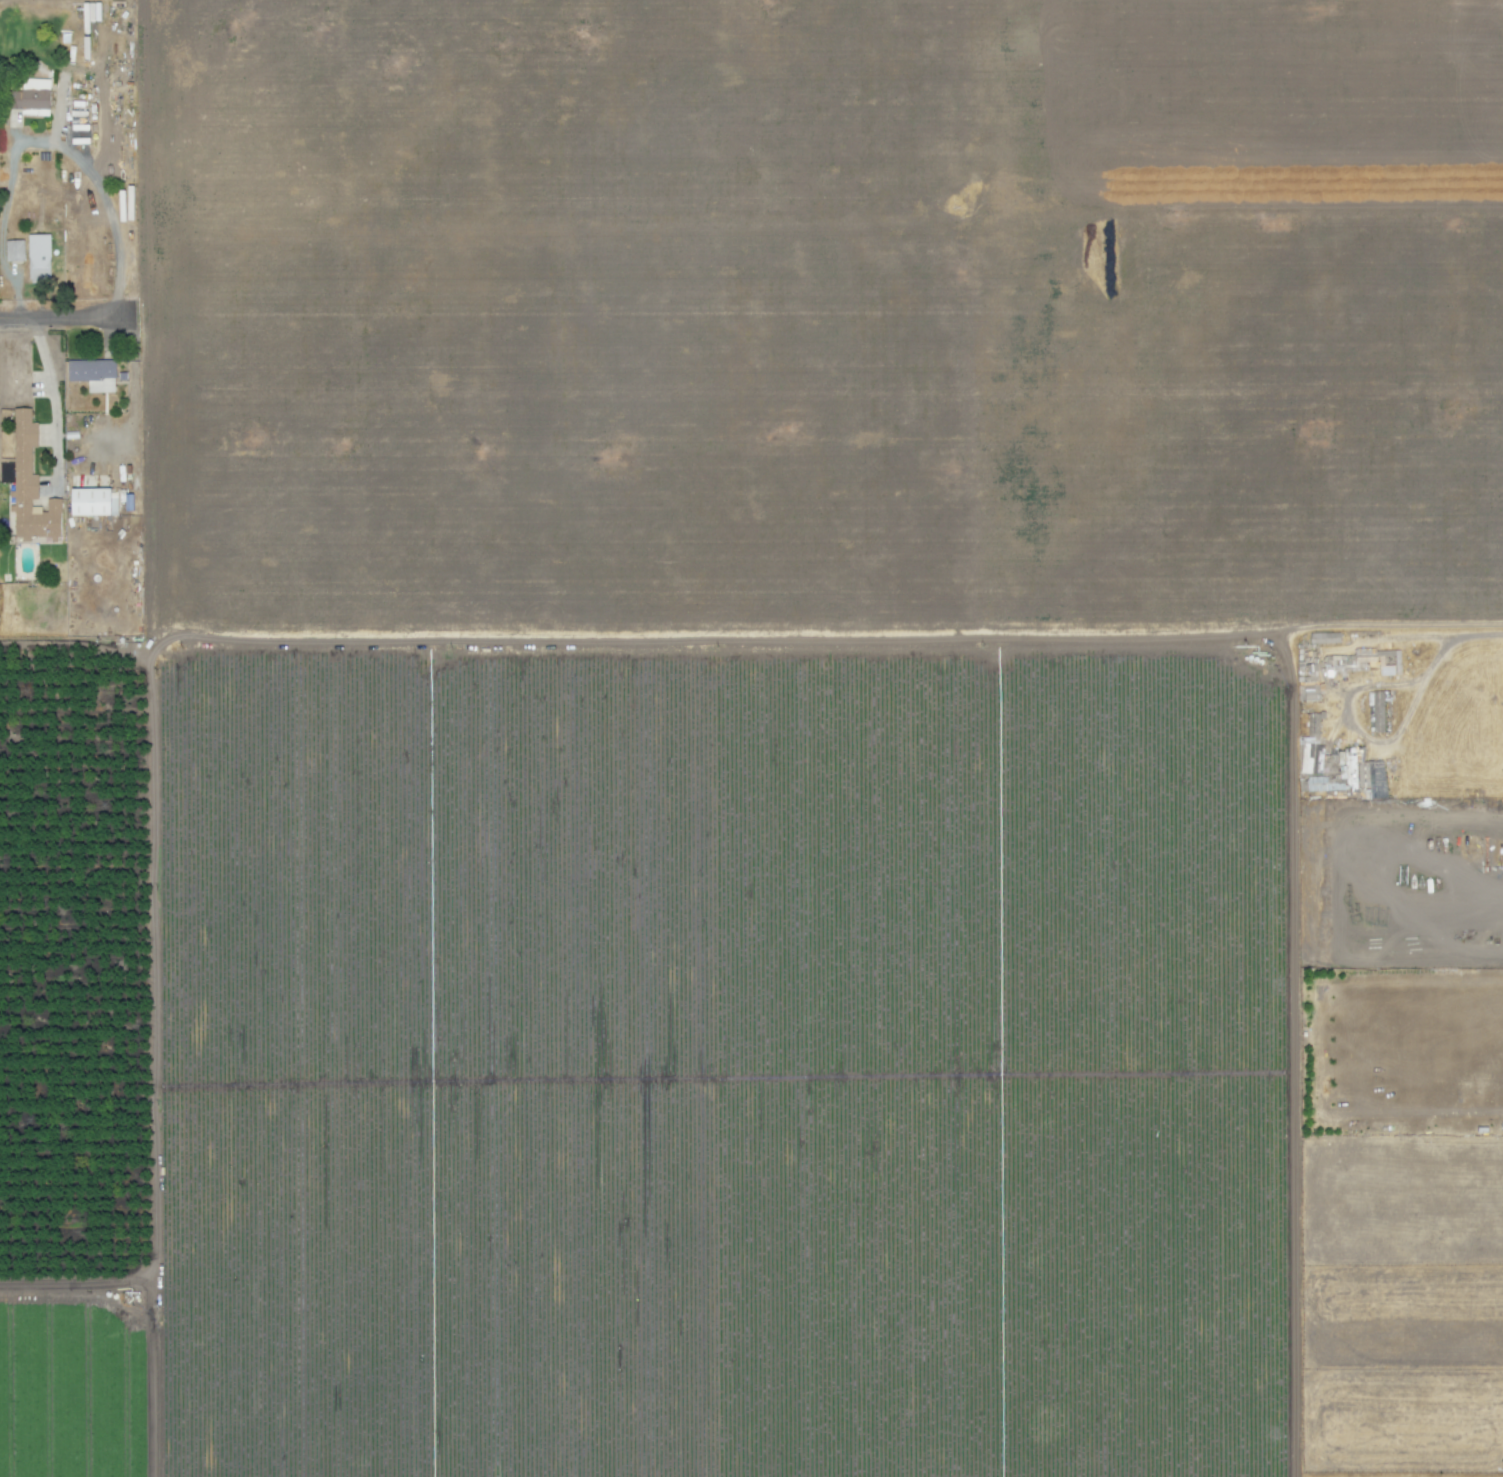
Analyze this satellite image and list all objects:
building: (91, 12)
building: (31, 99)
road: (82, 165)
building: (17, 252)
building: (41, 269)
road: (7, 276)
road: (16, 305)
road: (68, 320)
building: (94, 371)
road: (51, 400)
building: (25, 495)
building: (92, 503)
road: (751, 638)
building: (1324, 638)
building: (1338, 664)
railway: (922, 738)
building: (1375, 779)

